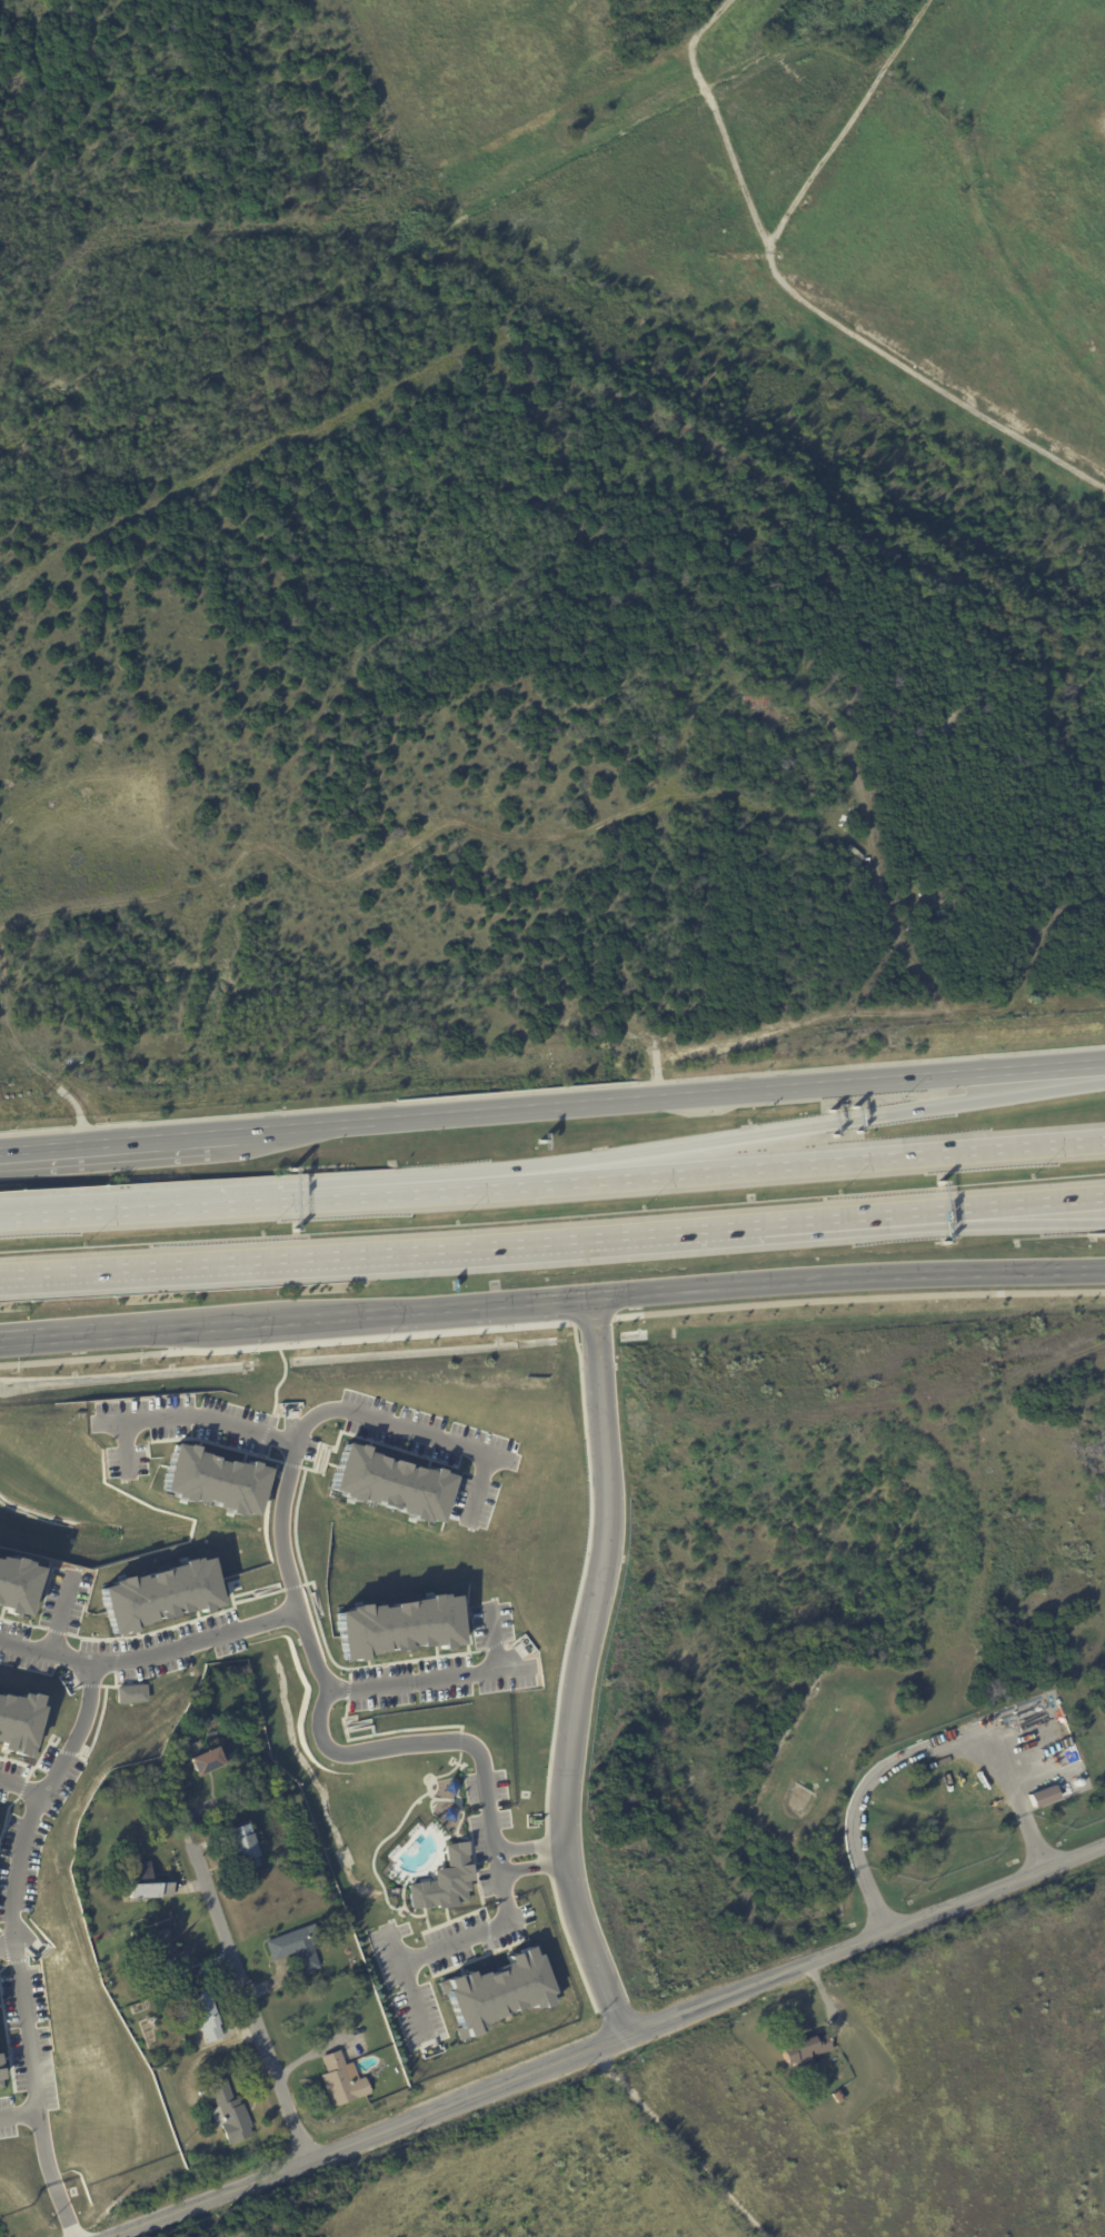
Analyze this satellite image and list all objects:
landfill: (807, 179)
building: (759, 699)
road: (844, 1081)
road: (411, 1115)
road: (765, 1133)
road: (120, 1141)
road: (765, 1160)
road: (350, 1192)
road: (138, 1204)
road: (969, 1210)
road: (969, 1224)
road: (417, 1250)
road: (852, 1275)
road: (853, 1295)
road: (449, 1304)
road: (225, 1322)
road: (74, 1334)
road: (300, 1339)
road: (185, 1412)
building: (212, 1480)
building: (388, 1484)
building: (17, 1585)
road: (291, 1593)
building: (158, 1594)
road: (61, 1623)
building: (397, 1627)
road: (46, 1657)
road: (587, 1664)
road: (436, 1678)
building: (19, 1722)
road: (910, 1751)
building: (208, 1762)
road: (20, 1794)
building: (1042, 1796)
road: (31, 1840)
building: (248, 1848)
road: (536, 1861)
building: (444, 1882)
building: (149, 1883)
road: (476, 1932)
building: (296, 1950)
road: (11, 1955)
building: (168, 1956)
road: (245, 1978)
road: (404, 1978)
building: (497, 1991)
building: (207, 2014)
road: (595, 2037)
building: (809, 2049)
building: (344, 2082)
building: (840, 2096)
building: (230, 2115)
road: (20, 2121)
road: (677, 2140)

